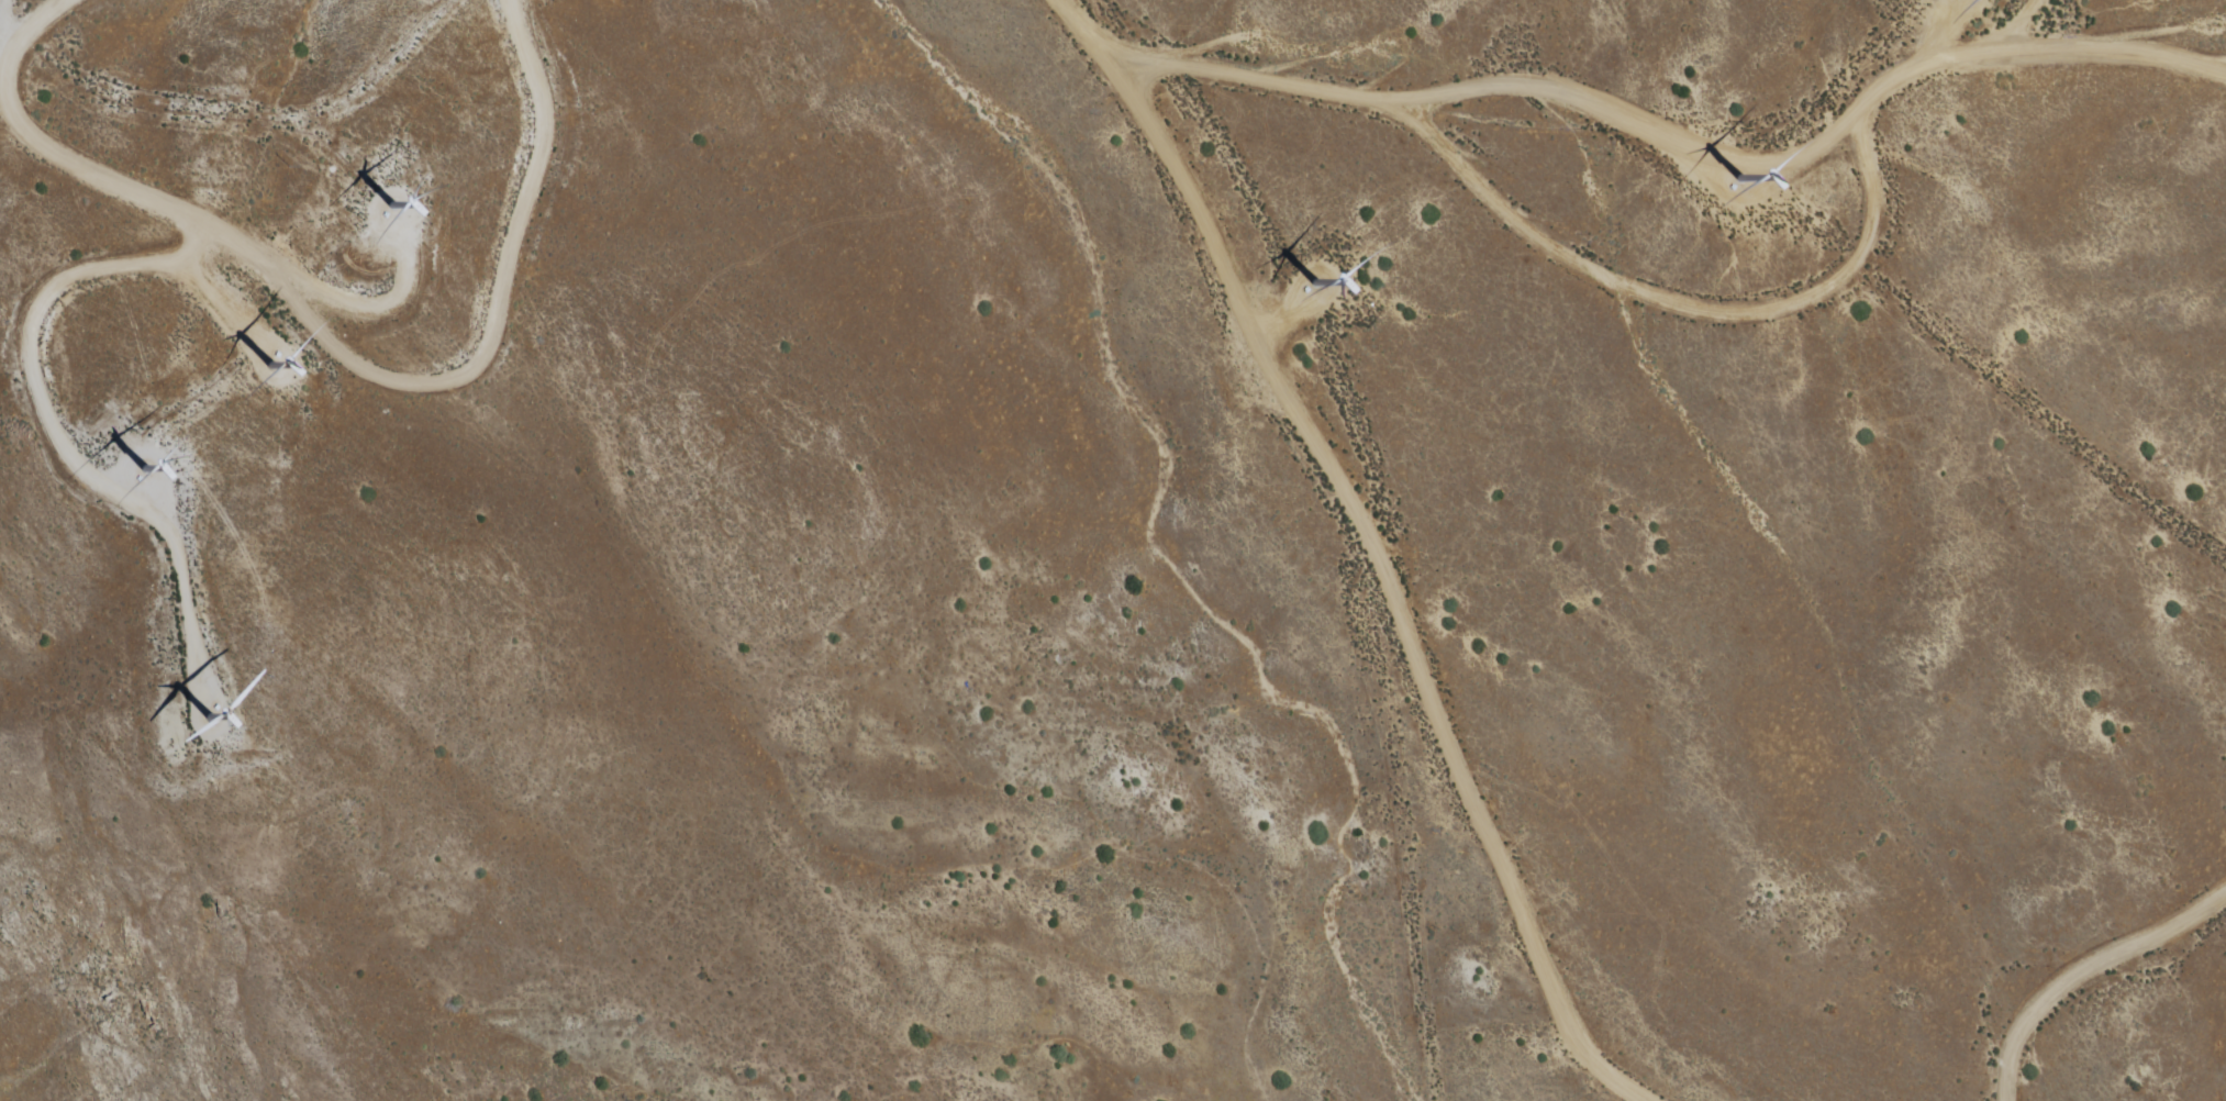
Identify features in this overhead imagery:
wind turbine: (1741, 177)
wind turbine: (389, 204)
wind turbine: (1315, 283)
road: (1640, 291)
road: (340, 343)
wind turbine: (277, 354)
wind turbine: (147, 475)
road: (1367, 544)
wind turbine: (216, 722)
road: (2085, 974)

